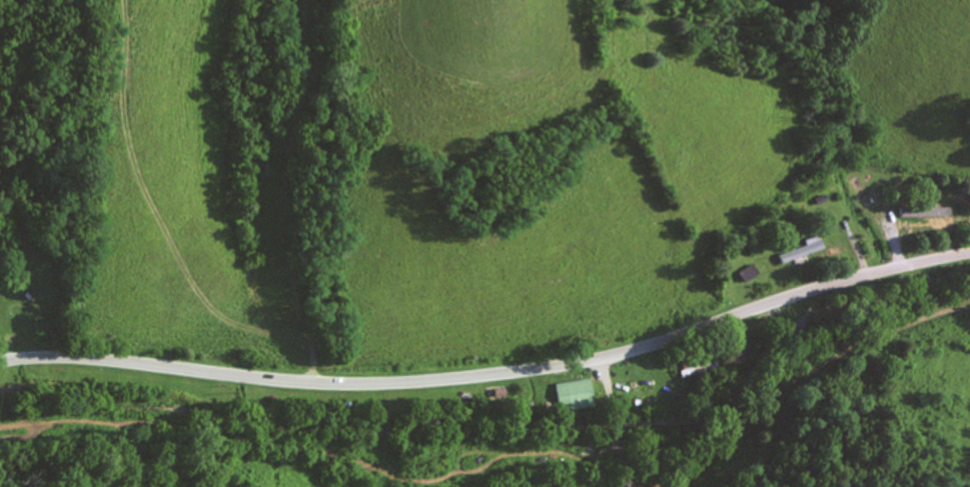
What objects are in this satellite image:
road: (311, 191)
building: (920, 231)
building: (805, 251)
building: (749, 274)
building: (700, 371)
road: (492, 374)
building: (577, 394)
road: (596, 425)

